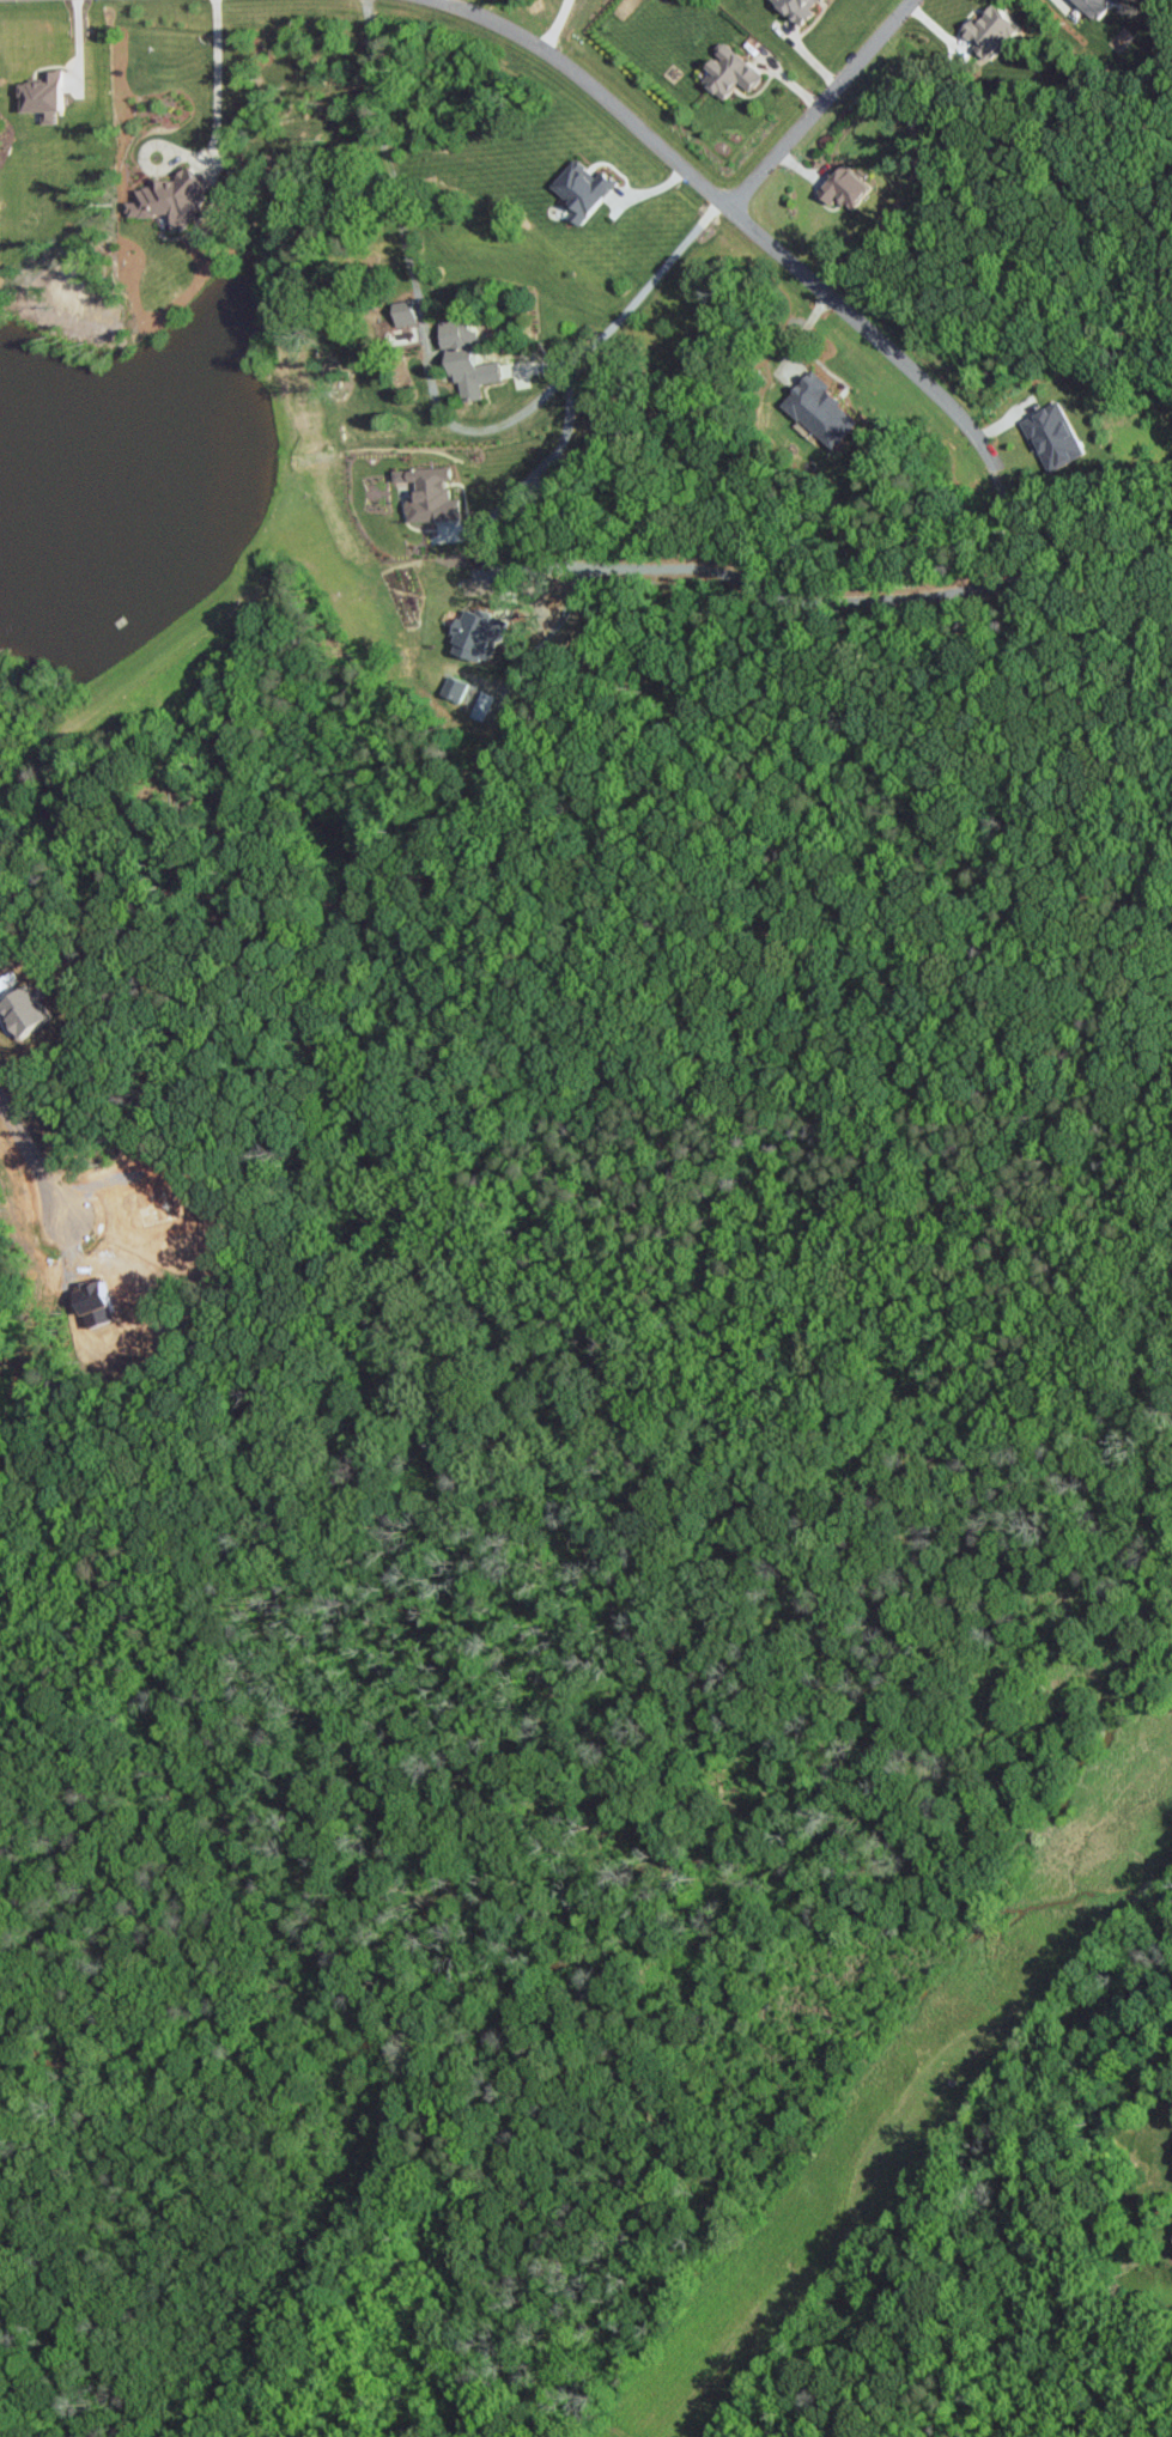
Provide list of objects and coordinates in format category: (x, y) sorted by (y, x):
road: (432, 1)
road: (1056, 2)
building: (1087, 5)
building: (793, 7)
road: (551, 23)
building: (986, 29)
building: (725, 71)
road: (215, 77)
building: (40, 95)
road: (818, 103)
building: (838, 187)
building: (579, 189)
building: (166, 199)
road: (725, 206)
road: (413, 280)
building: (401, 314)
road: (794, 342)
building: (461, 358)
road: (579, 360)
building: (818, 409)
building: (1050, 432)
building: (425, 493)
road: (816, 600)
building: (472, 634)
building: (451, 687)
building: (480, 705)
road: (34, 1151)
river: (581, 1957)

